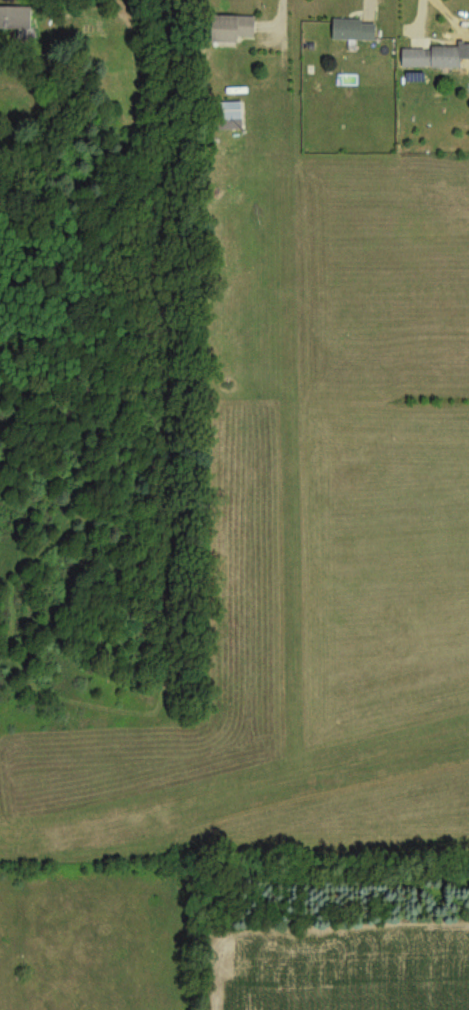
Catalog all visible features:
building: (15, 19)
building: (230, 30)
building: (352, 32)
building: (429, 59)
building: (227, 117)
airport runway: (262, 796)
crop: (340, 971)

